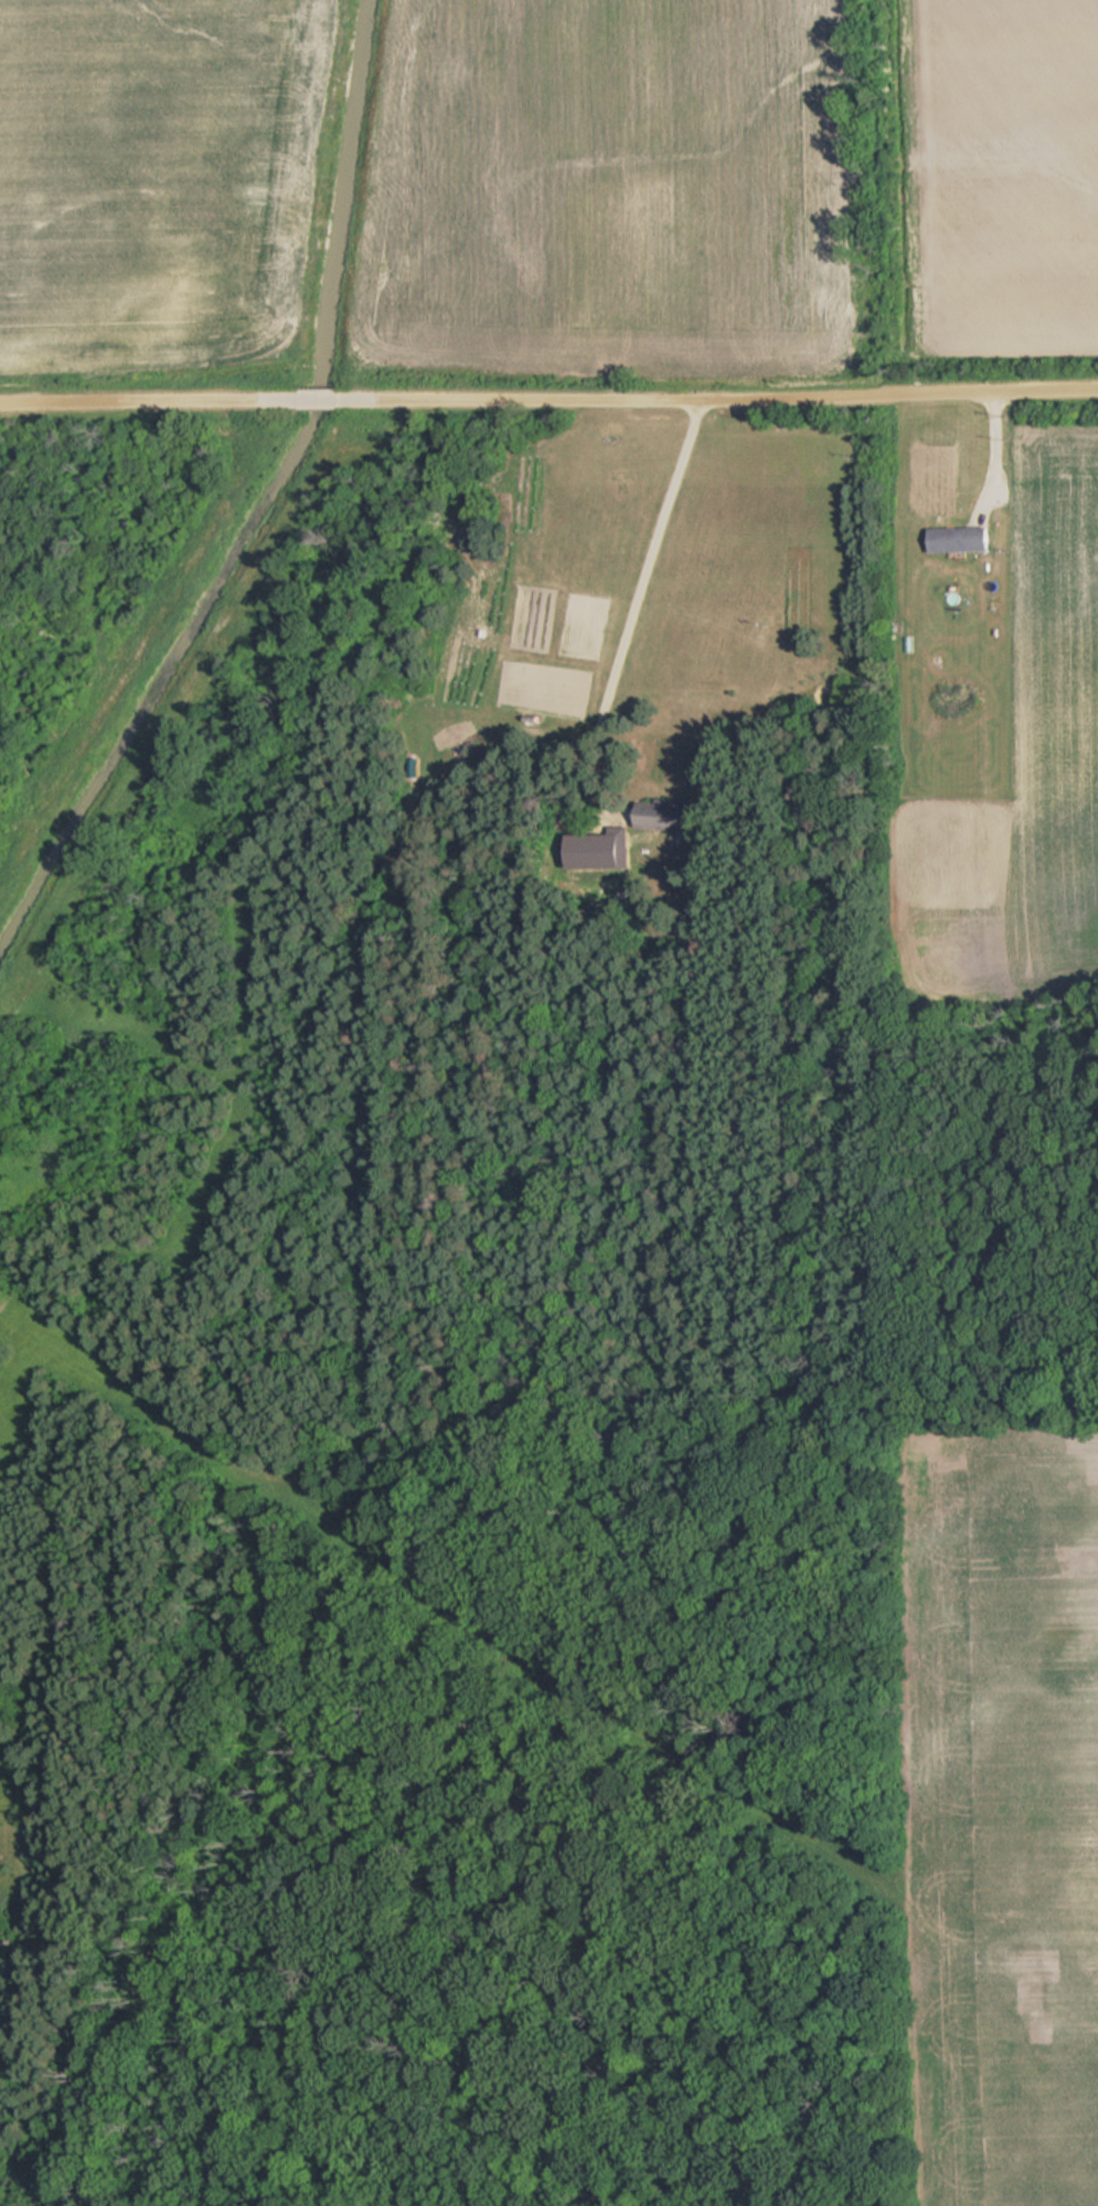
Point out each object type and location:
road: (285, 406)
road: (708, 406)
road: (126, 409)
river: (266, 500)
building: (961, 539)
building: (671, 815)

